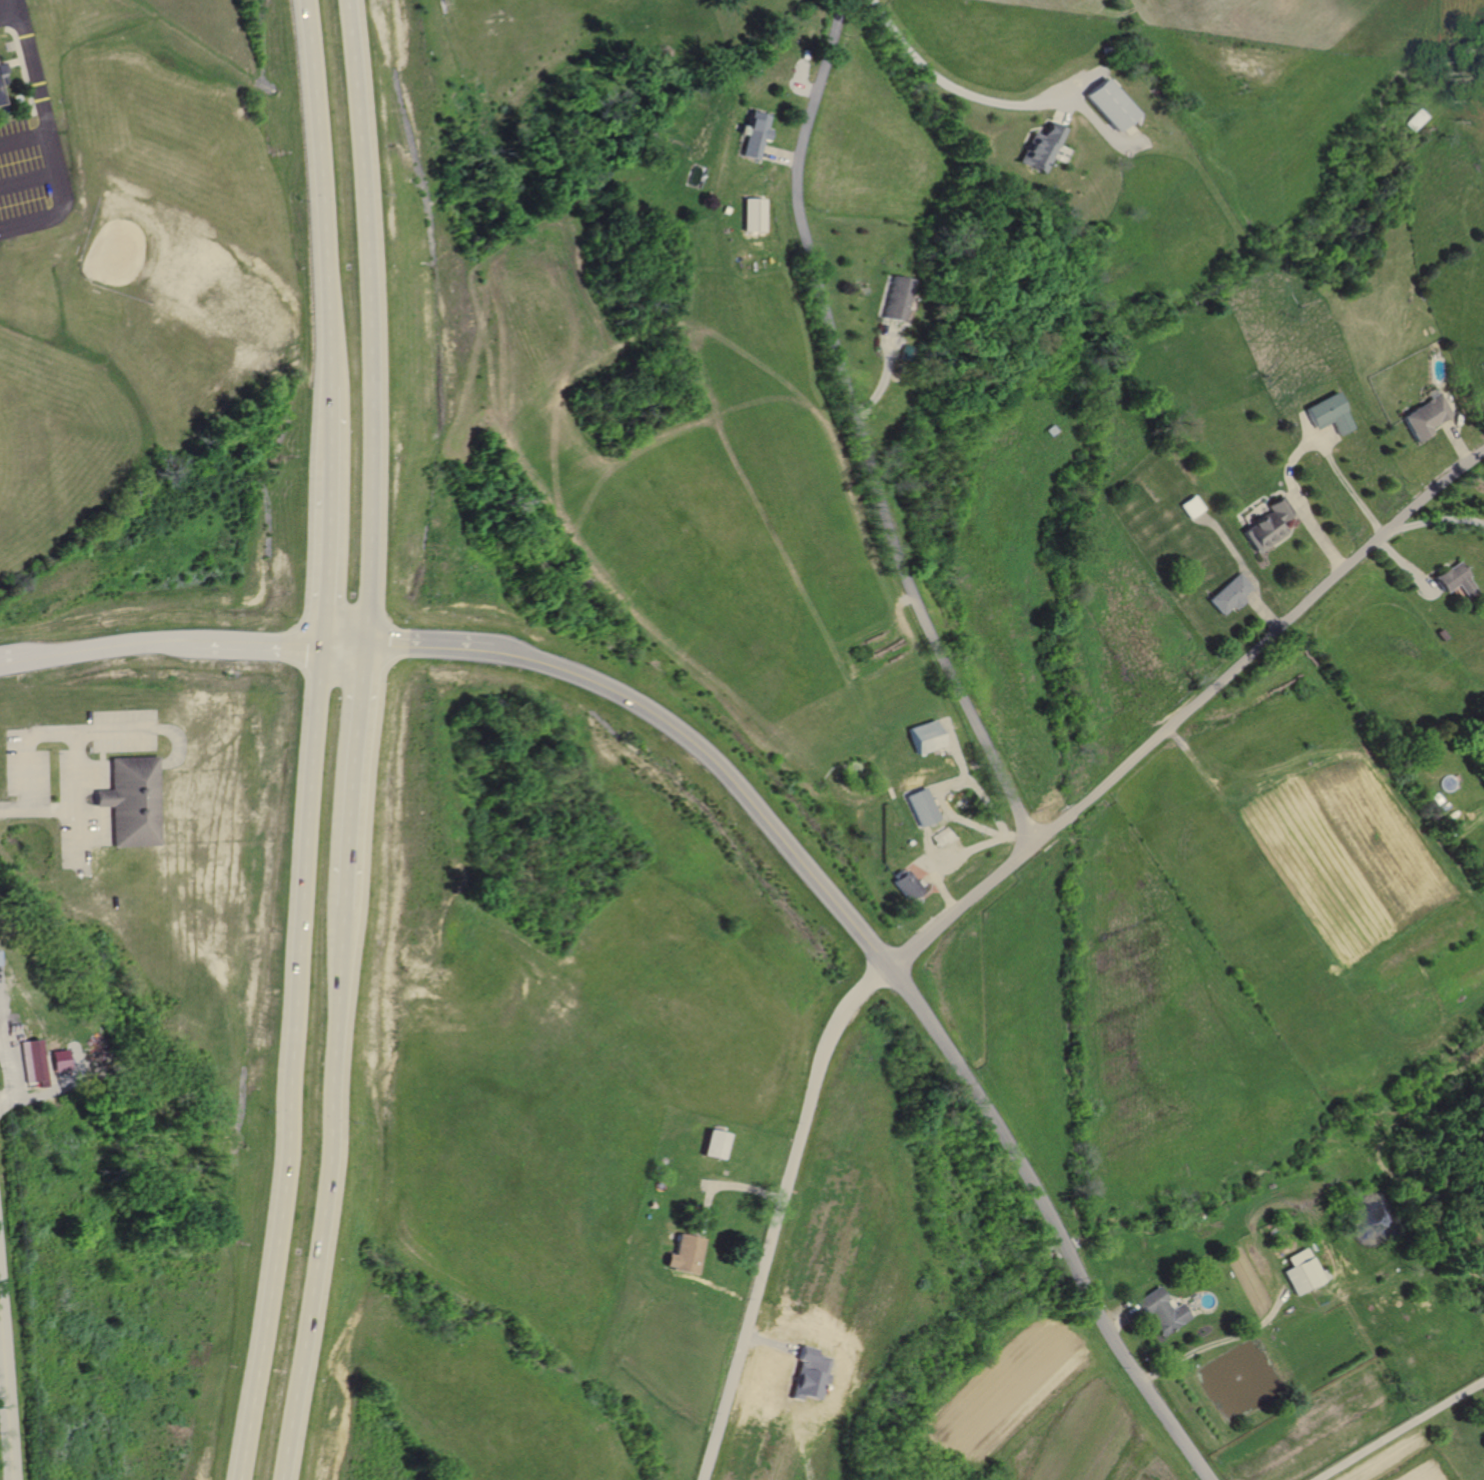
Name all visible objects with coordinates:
road: (36, 66)
building: (1, 77)
road: (805, 81)
road: (976, 93)
building: (0, 98)
building: (1114, 103)
building: (0, 104)
road: (1067, 111)
road: (1102, 124)
building: (756, 133)
road: (26, 138)
building: (1045, 147)
road: (780, 155)
road: (31, 179)
road: (328, 192)
road: (63, 202)
building: (753, 213)
park: (171, 221)
building: (899, 295)
road: (376, 321)
road: (888, 370)
building: (1334, 412)
building: (1432, 413)
road: (342, 426)
road: (863, 430)
road: (1326, 437)
road: (1462, 437)
road: (1298, 451)
road: (1298, 502)
building: (1194, 505)
road: (1440, 520)
building: (1272, 523)
road: (1235, 550)
road: (342, 557)
road: (1411, 567)
building: (1460, 578)
building: (1234, 593)
road: (1265, 608)
road: (274, 645)
road: (361, 645)
road: (449, 646)
road: (121, 648)
road: (18, 664)
road: (85, 736)
building: (927, 736)
road: (730, 773)
road: (373, 774)
road: (973, 781)
building: (144, 798)
building: (926, 807)
road: (18, 809)
road: (947, 813)
road: (933, 845)
road: (964, 855)
crop: (1351, 855)
road: (930, 865)
building: (911, 884)
road: (978, 890)
building: (22, 1034)
building: (69, 1061)
building: (39, 1062)
road: (306, 1064)
road: (16, 1070)
building: (717, 1145)
road: (723, 1183)
road: (326, 1192)
road: (1051, 1221)
building: (687, 1255)
building: (1305, 1272)
building: (1162, 1310)
road: (1121, 1314)
road: (1, 1329)
road: (1220, 1341)
road: (7, 1388)
crop: (1001, 1391)
road: (1400, 1429)
crop: (1083, 1440)
crop: (1405, 1460)
crop: (1149, 1476)

